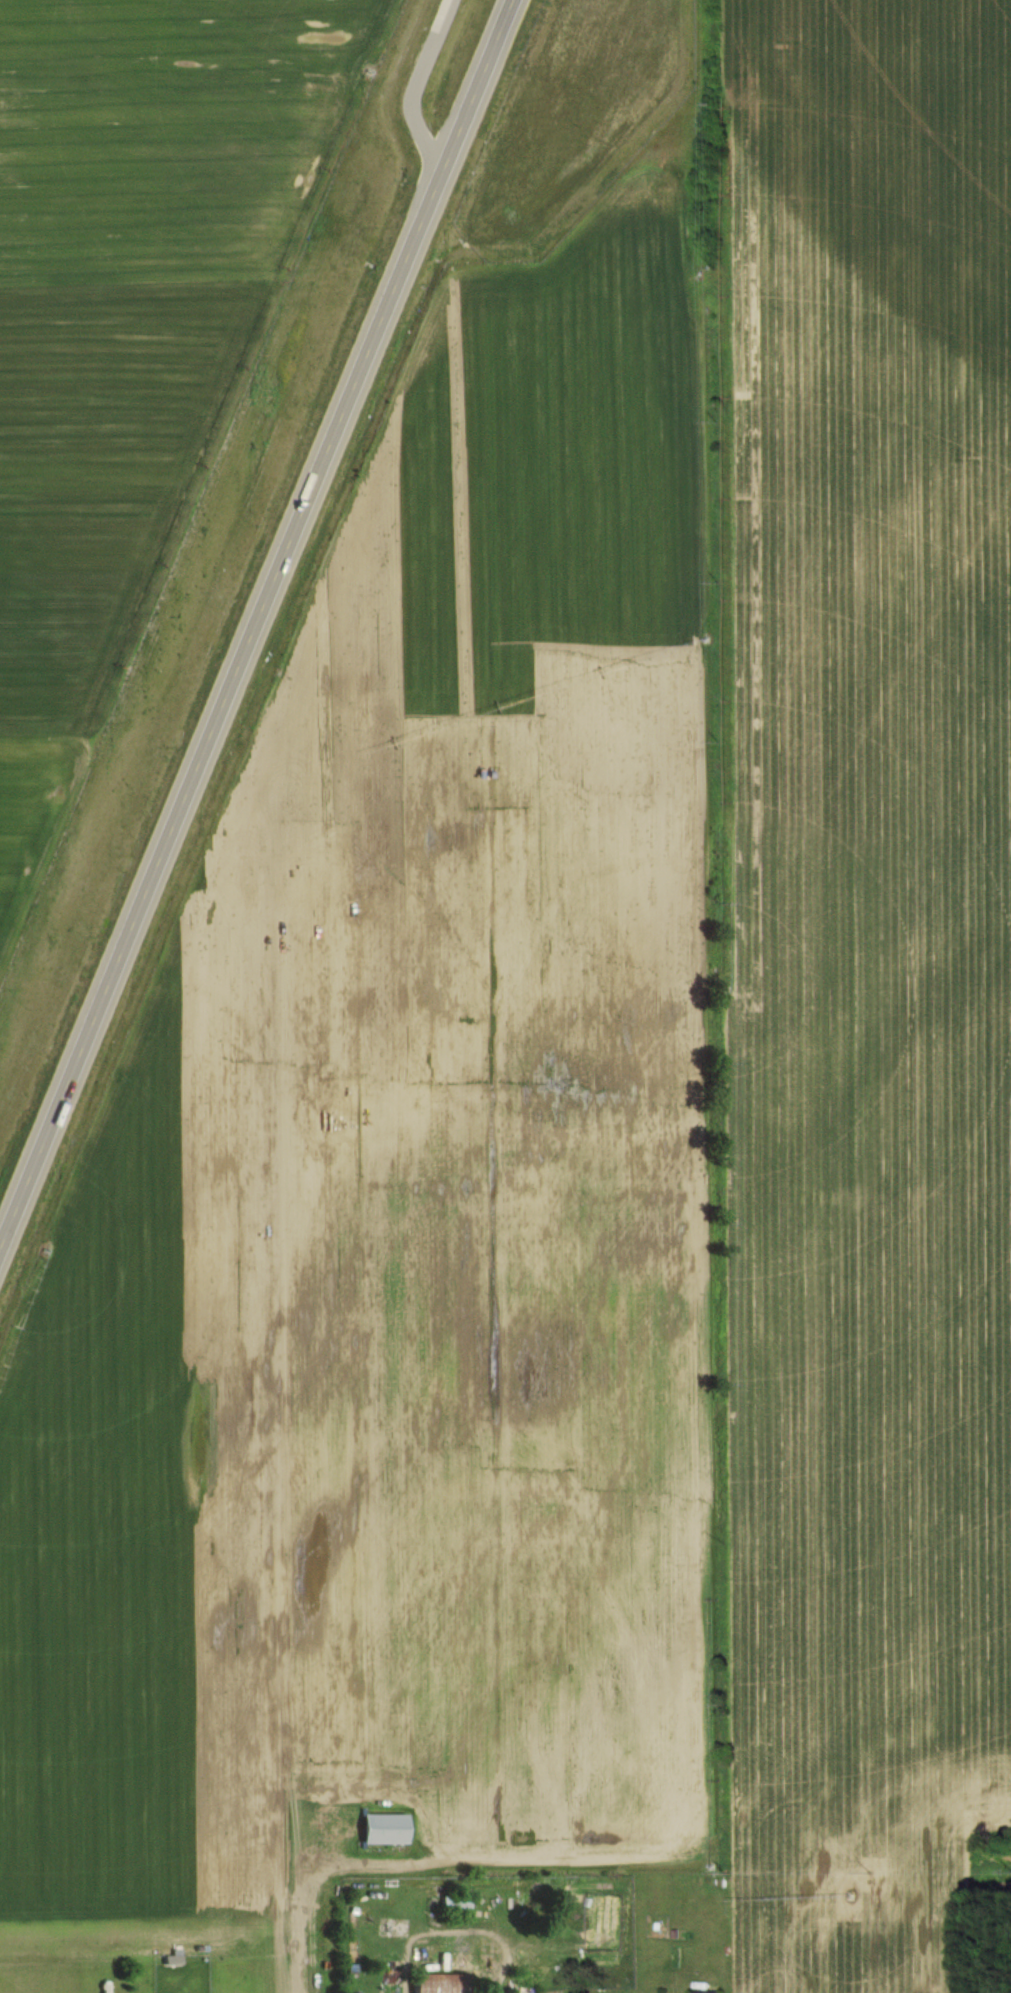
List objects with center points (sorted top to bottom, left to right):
road: (431, 86)
crop: (174, 135)
crop: (92, 516)
road: (264, 635)
crop: (868, 970)
building: (386, 1829)
building: (455, 1905)
building: (439, 1983)
building: (527, 1983)

